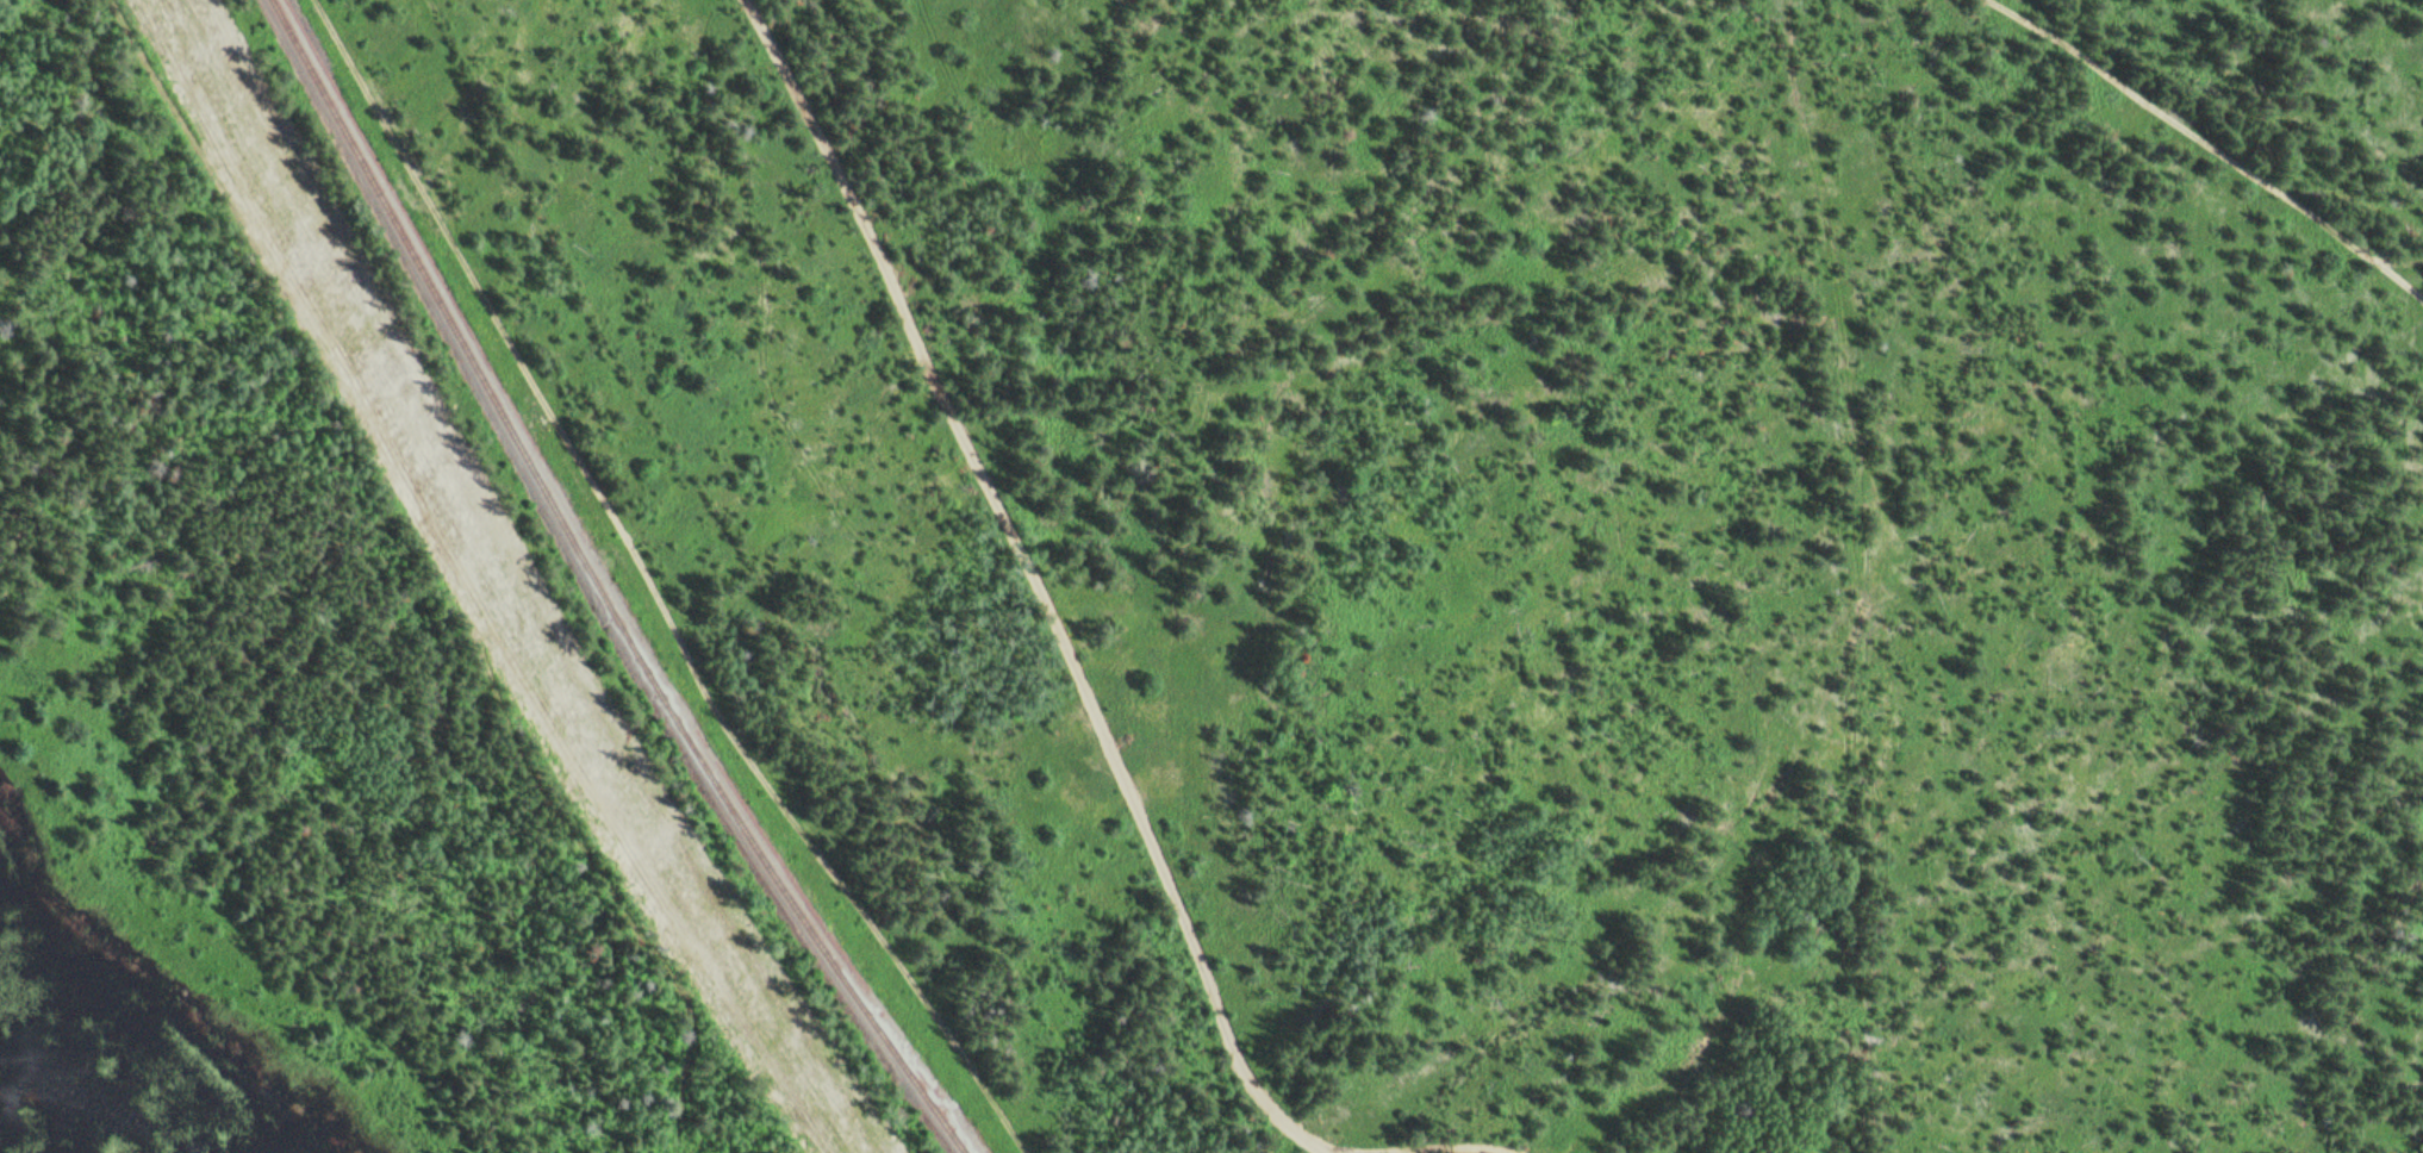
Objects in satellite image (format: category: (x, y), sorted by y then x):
road: (2211, 133)
road: (2399, 257)
road: (451, 557)
road: (766, 560)
railway: (616, 584)
road: (660, 593)
road: (1856, 621)
road: (1072, 674)
road: (1320, 1147)

